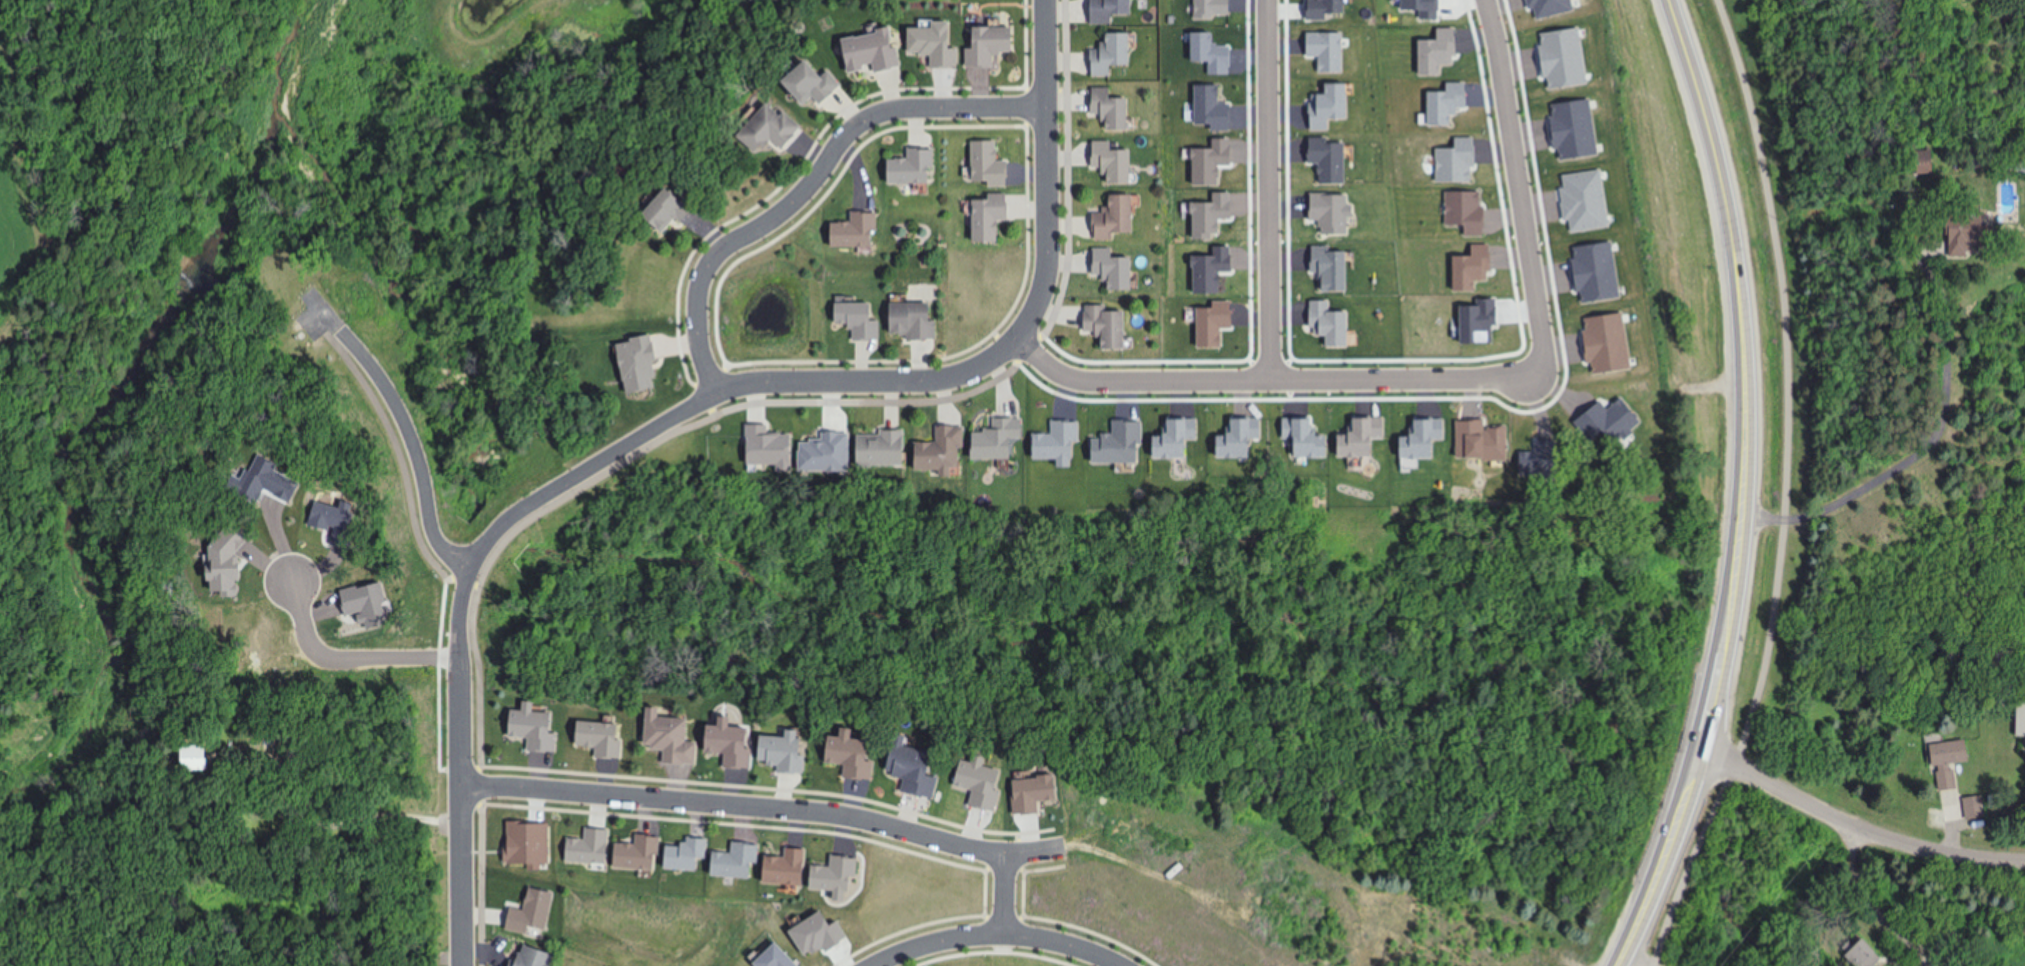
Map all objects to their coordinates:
building: (1554, 3)
building: (1217, 6)
building: (1427, 7)
building: (1330, 9)
building: (1112, 10)
building: (1216, 43)
building: (992, 45)
building: (1568, 45)
building: (934, 48)
building: (1439, 51)
building: (876, 52)
building: (1329, 53)
building: (1115, 55)
building: (819, 83)
building: (1213, 98)
building: (1449, 102)
building: (1329, 106)
building: (1114, 109)
building: (1575, 120)
building: (825, 125)
building: (774, 130)
building: (1461, 153)
building: (1208, 155)
building: (1917, 161)
building: (1116, 163)
building: (990, 165)
building: (1332, 166)
building: (918, 167)
road: (810, 181)
road: (1519, 182)
road: (1269, 189)
building: (1586, 193)
building: (1465, 201)
building: (1213, 205)
building: (676, 210)
building: (1338, 216)
building: (993, 217)
building: (1117, 219)
crop: (11, 222)
building: (853, 235)
building: (1956, 237)
building: (1469, 256)
building: (1216, 259)
building: (1595, 264)
building: (1333, 268)
building: (1116, 271)
building: (1475, 312)
building: (1214, 317)
building: (1330, 317)
building: (862, 321)
building: (915, 323)
building: (1109, 325)
building: (1608, 333)
building: (635, 359)
park: (138, 372)
road: (1136, 378)
road: (1411, 378)
road: (697, 403)
road: (722, 413)
building: (1115, 433)
building: (1359, 435)
building: (1479, 435)
building: (1054, 436)
building: (1171, 436)
building: (1300, 436)
building: (763, 437)
building: (1233, 438)
road: (411, 439)
building: (1417, 440)
building: (997, 441)
building: (823, 445)
building: (945, 447)
building: (887, 448)
road: (1921, 454)
road: (401, 465)
road: (1743, 487)
road: (1785, 490)
road: (345, 653)
building: (2017, 717)
building: (674, 740)
building: (196, 759)
building: (1945, 765)
road: (762, 803)
building: (1966, 809)
road: (342, 826)
road: (1857, 827)
road: (1010, 895)
road: (997, 932)
building: (1861, 954)
building: (540, 957)
road: (1639, 959)
building: (511, 965)

